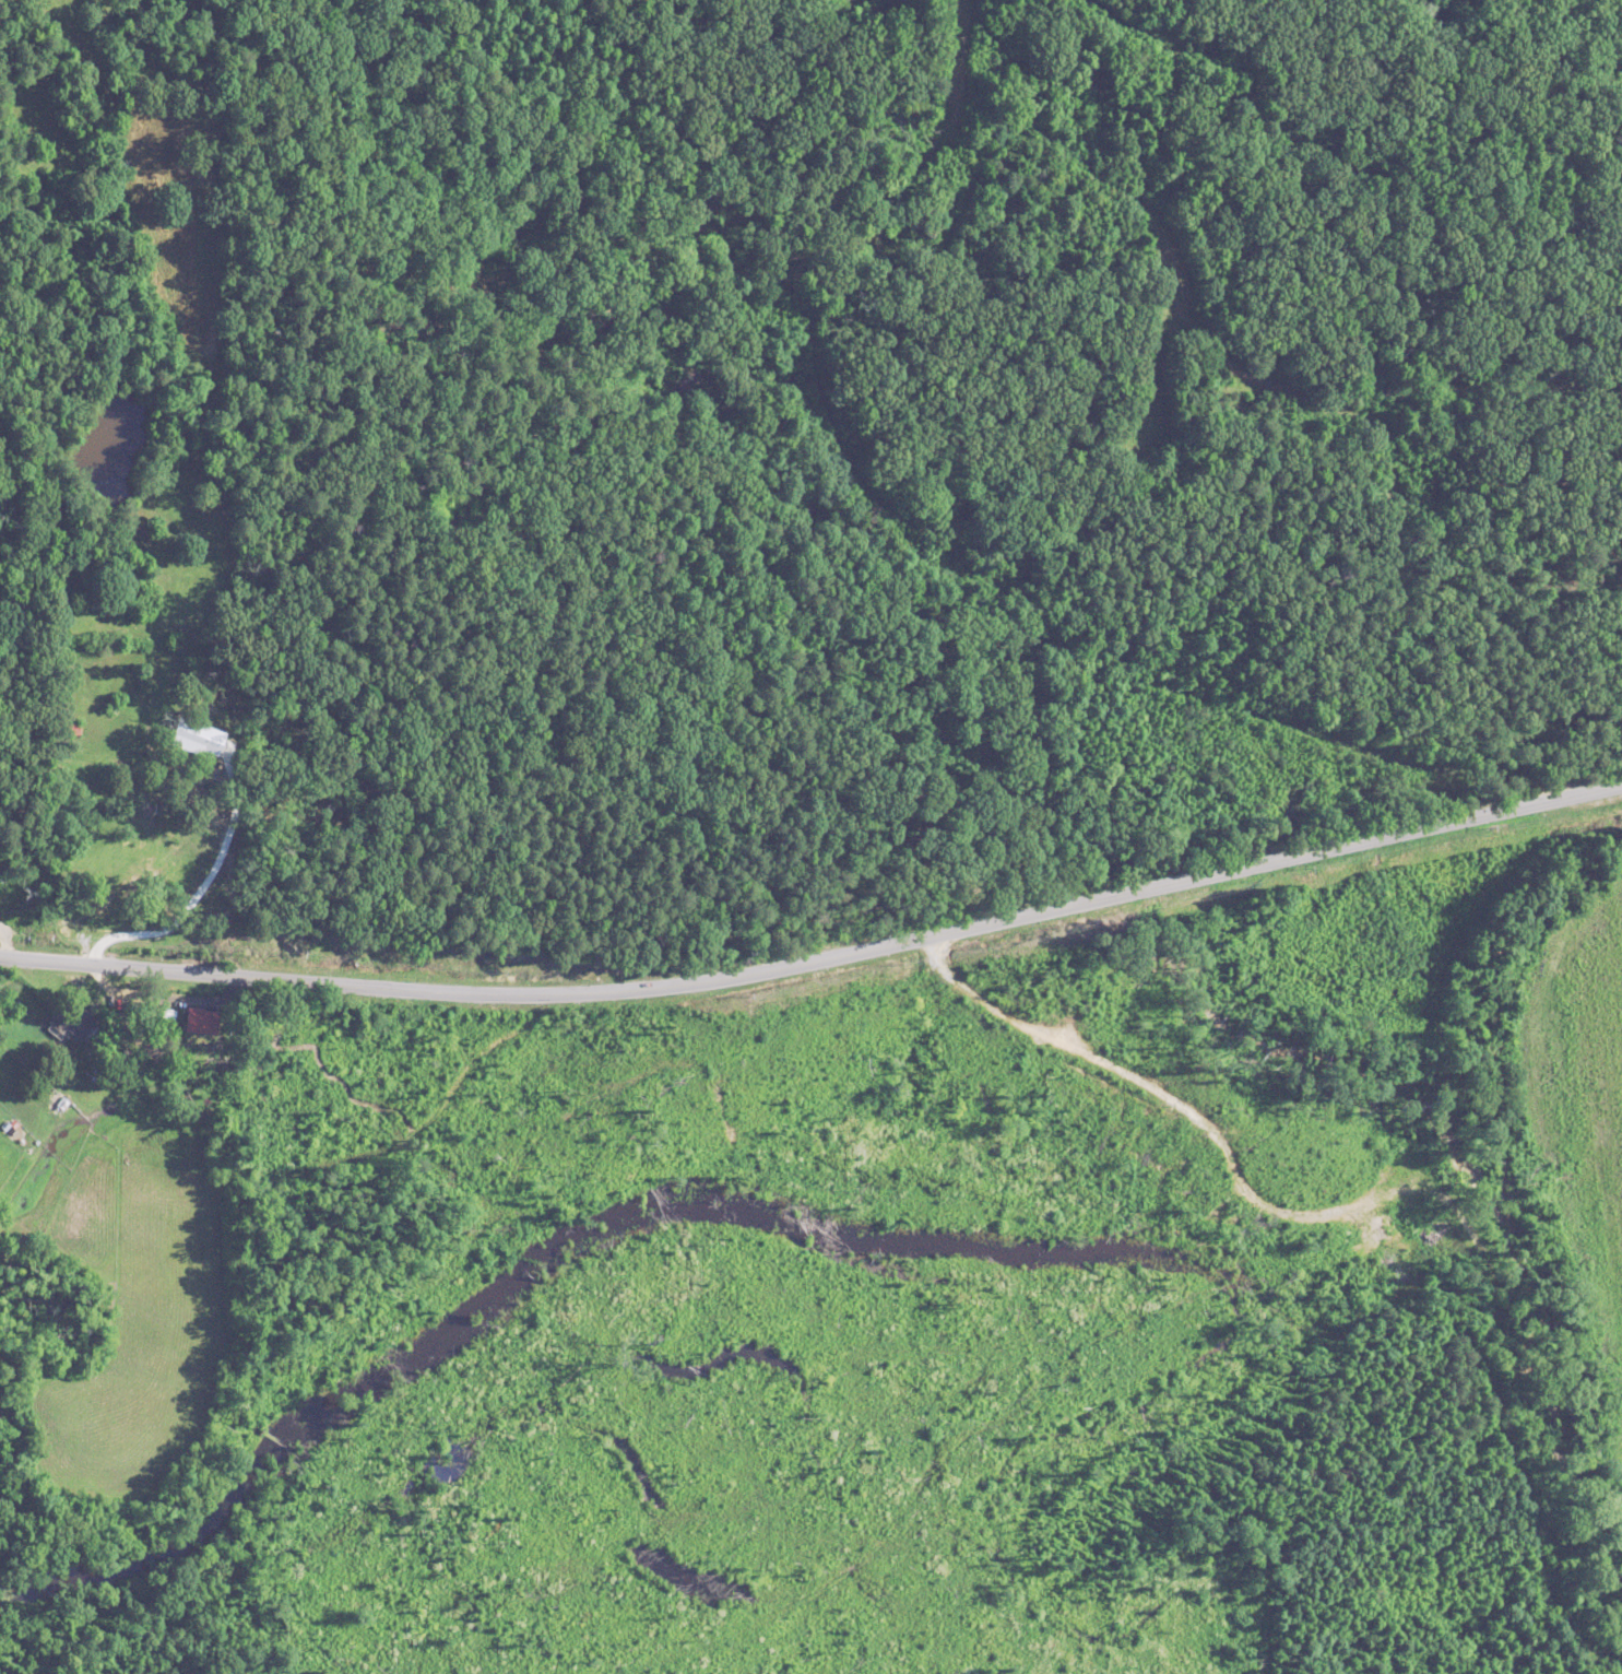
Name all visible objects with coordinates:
building: (201, 739)
road: (200, 894)
road: (4, 941)
road: (818, 959)
building: (203, 1018)
building: (72, 1019)

